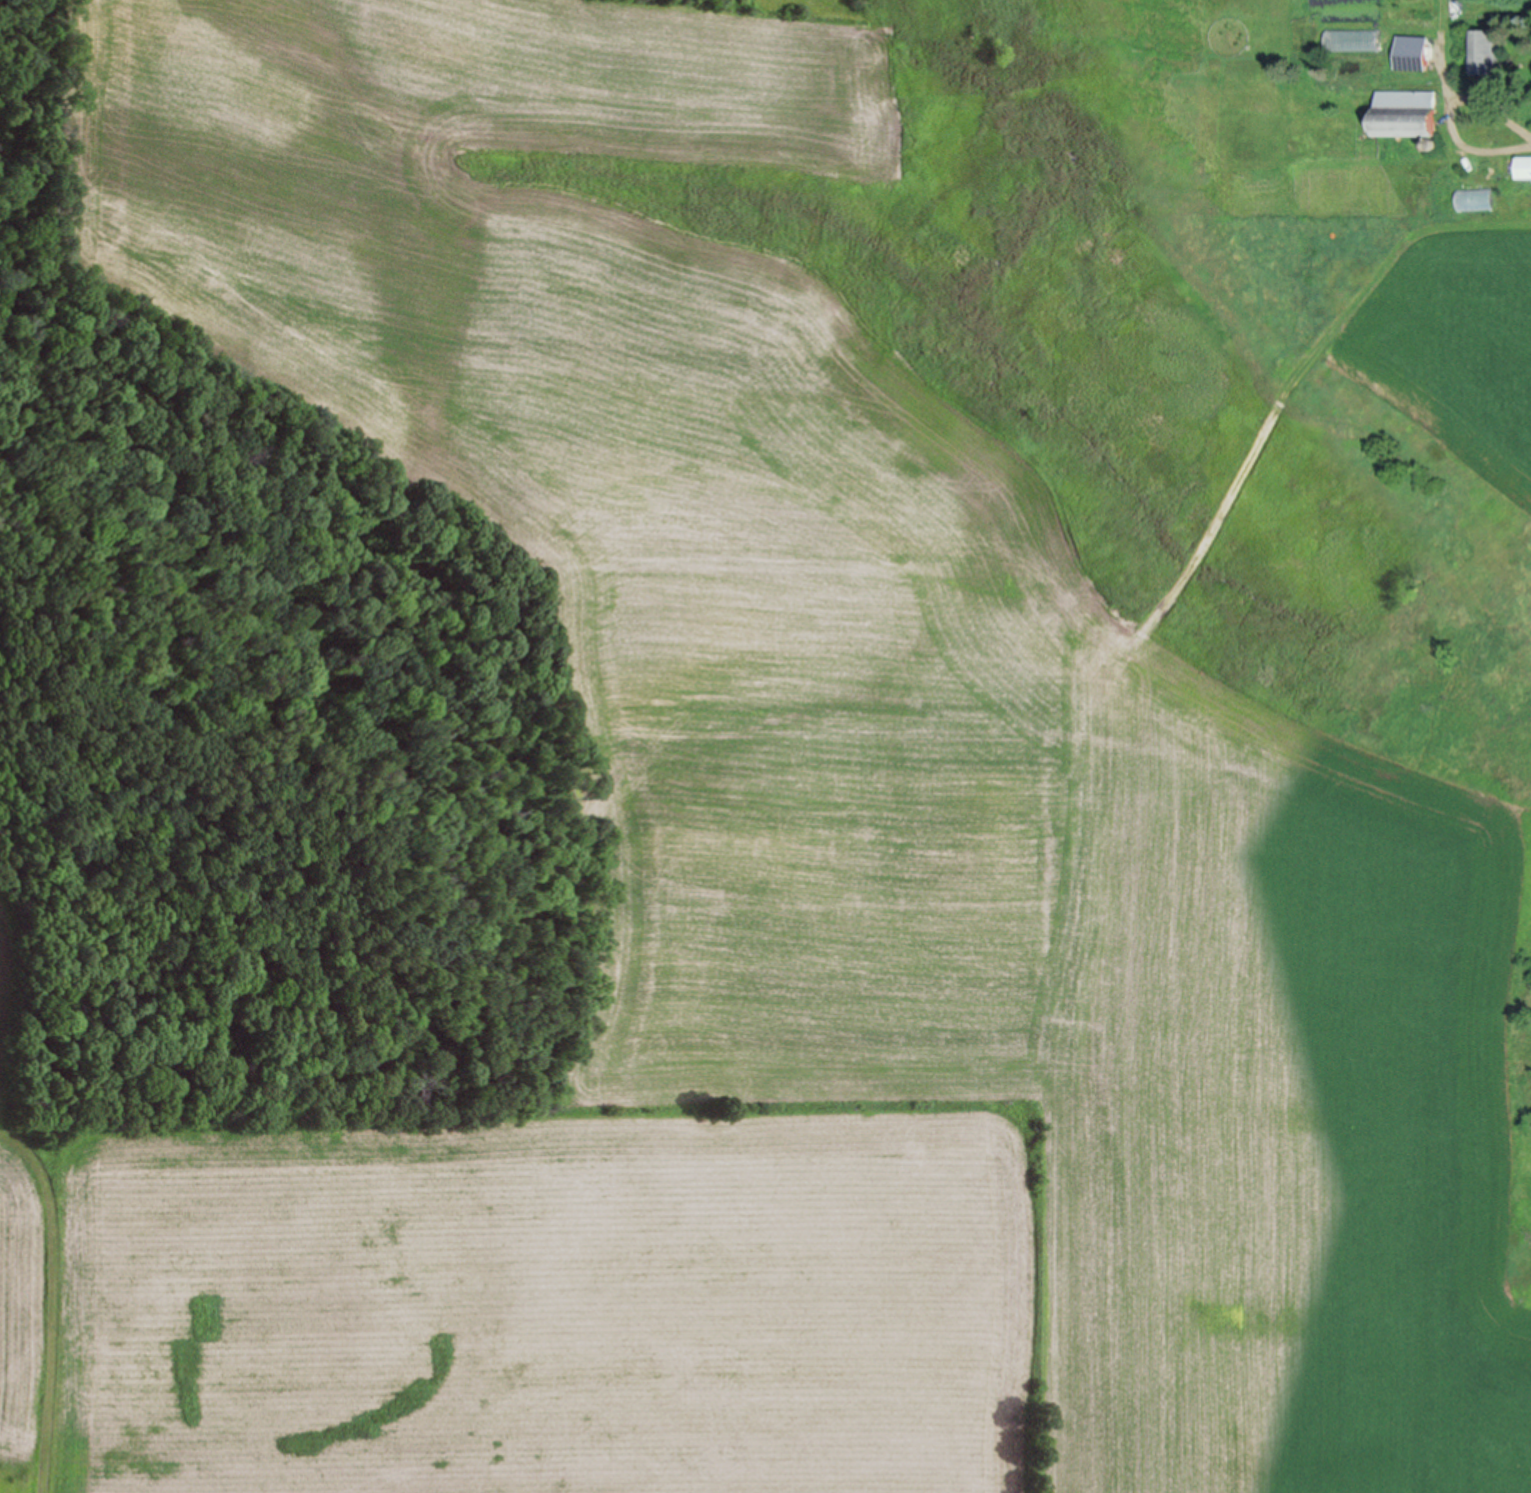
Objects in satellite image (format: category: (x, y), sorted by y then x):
building: (1484, 52)
road: (1452, 104)
building: (1405, 113)
building: (1523, 167)
crop: (1486, 343)
crop: (775, 890)

